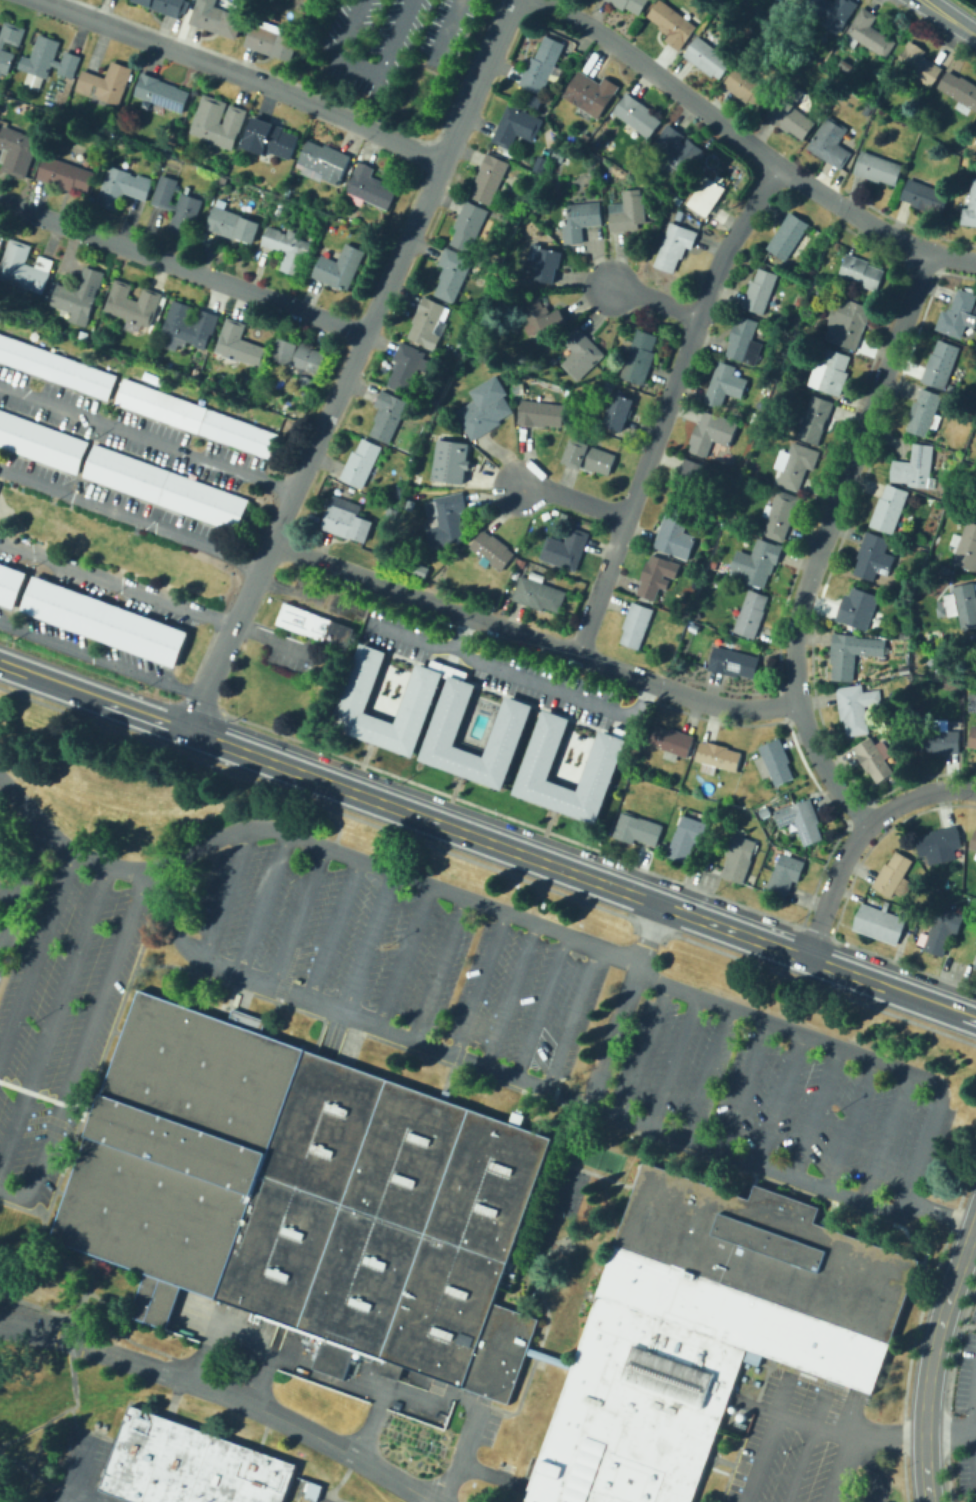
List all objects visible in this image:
building: (631, 4)
building: (166, 6)
street lamp: (431, 8)
building: (833, 10)
road: (948, 17)
building: (217, 18)
building: (672, 23)
street lamp: (371, 28)
road: (445, 30)
parking lot: (447, 30)
building: (869, 33)
building: (271, 40)
parking lot: (371, 41)
street lamp: (414, 46)
building: (4, 51)
building: (708, 57)
building: (822, 58)
building: (47, 61)
building: (802, 63)
building: (849, 64)
building: (919, 64)
road: (366, 67)
building: (542, 69)
road: (242, 76)
road: (479, 81)
building: (106, 83)
building: (748, 85)
building: (960, 91)
building: (161, 93)
building: (591, 93)
building: (64, 96)
road: (691, 98)
building: (918, 102)
building: (828, 103)
building: (867, 107)
building: (61, 111)
building: (821, 111)
building: (791, 112)
building: (637, 114)
building: (218, 122)
building: (516, 126)
building: (269, 138)
building: (831, 142)
building: (676, 148)
building: (17, 149)
building: (967, 152)
building: (558, 156)
building: (324, 162)
building: (968, 162)
building: (541, 164)
building: (878, 168)
building: (65, 174)
building: (605, 176)
building: (490, 178)
building: (122, 187)
building: (368, 188)
building: (188, 189)
building: (667, 194)
building: (924, 194)
building: (708, 196)
building: (266, 201)
building: (178, 206)
building: (279, 207)
building: (970, 207)
building: (628, 211)
building: (581, 221)
building: (233, 225)
building: (469, 225)
building: (788, 236)
road: (904, 244)
building: (675, 246)
building: (289, 248)
building: (546, 262)
road: (183, 267)
building: (339, 267)
building: (24, 268)
building: (861, 272)
building: (453, 273)
building: (504, 283)
building: (760, 290)
building: (79, 296)
road: (651, 297)
building: (133, 303)
building: (959, 314)
building: (544, 315)
building: (426, 320)
building: (848, 322)
building: (191, 323)
building: (791, 323)
building: (744, 341)
building: (240, 344)
building: (973, 345)
building: (581, 353)
building: (639, 355)
building: (300, 360)
building: (941, 364)
building: (55, 366)
building: (406, 367)
building: (830, 371)
building: (791, 376)
building: (725, 384)
building: (618, 406)
road: (663, 406)
building: (486, 408)
building: (925, 413)
building: (541, 414)
building: (388, 415)
building: (195, 416)
building: (816, 418)
building: (713, 432)
road: (146, 437)
building: (41, 441)
building: (428, 443)
road: (312, 446)
building: (590, 457)
building: (455, 460)
building: (361, 463)
building: (798, 465)
building: (915, 466)
road: (847, 477)
building: (689, 480)
building: (164, 486)
building: (413, 494)
road: (571, 499)
building: (889, 508)
building: (975, 510)
road: (129, 514)
building: (723, 515)
building: (780, 515)
building: (448, 519)
building: (346, 521)
building: (719, 524)
building: (675, 533)
building: (965, 546)
building: (566, 549)
building: (492, 551)
building: (875, 556)
building: (757, 562)
building: (714, 564)
building: (418, 570)
building: (657, 575)
building: (10, 584)
building: (539, 594)
road: (154, 598)
building: (966, 604)
building: (858, 608)
road: (458, 613)
building: (752, 614)
building: (104, 620)
building: (636, 624)
building: (316, 626)
building: (905, 635)
road: (423, 640)
building: (852, 653)
road: (102, 654)
building: (733, 662)
road: (554, 689)
building: (420, 691)
road: (94, 697)
road: (722, 706)
building: (856, 707)
building: (445, 724)
building: (973, 737)
building: (939, 738)
building: (671, 741)
building: (718, 757)
building: (603, 759)
building: (874, 759)
building: (775, 761)
road: (824, 769)
building: (765, 811)
building: (802, 820)
parking lot: (6, 827)
building: (637, 829)
building: (686, 837)
road: (859, 837)
building: (974, 842)
building: (940, 844)
road: (339, 852)
building: (739, 857)
building: (895, 875)
building: (784, 876)
road: (582, 877)
road: (21, 886)
building: (957, 886)
road: (9, 891)
road: (227, 893)
building: (937, 899)
road: (262, 902)
road: (298, 915)
building: (880, 923)
road: (332, 928)
building: (944, 929)
building: (975, 939)
road: (364, 940)
road: (37, 951)
road: (403, 954)
road: (438, 967)
building: (975, 967)
road: (480, 983)
road: (509, 993)
road: (541, 1005)
parking lot: (58, 1014)
road: (573, 1016)
road: (53, 1017)
parking lot: (572, 1018)
road: (333, 1030)
road: (615, 1034)
road: (84, 1046)
road: (847, 1046)
road: (645, 1047)
road: (674, 1058)
road: (705, 1070)
road: (537, 1082)
road: (747, 1085)
road: (780, 1097)
road: (815, 1109)
road: (849, 1122)
road: (888, 1136)
building: (306, 1197)
building: (706, 1331)
road: (198, 1356)
road: (931, 1356)
road: (71, 1375)
road: (260, 1379)
road: (355, 1389)
road: (781, 1391)
road: (224, 1393)
road: (818, 1408)
road: (973, 1409)
parking lot: (966, 1410)
road: (848, 1414)
road: (368, 1423)
road: (42, 1429)
road: (24, 1432)
road: (974, 1432)
road: (851, 1433)
parking lot: (808, 1446)
road: (760, 1457)
road: (974, 1460)
road: (79, 1463)
road: (799, 1463)
building: (189, 1465)
road: (872, 1466)
road: (841, 1467)
road: (491, 1470)
road: (452, 1487)
road: (76, 1490)

